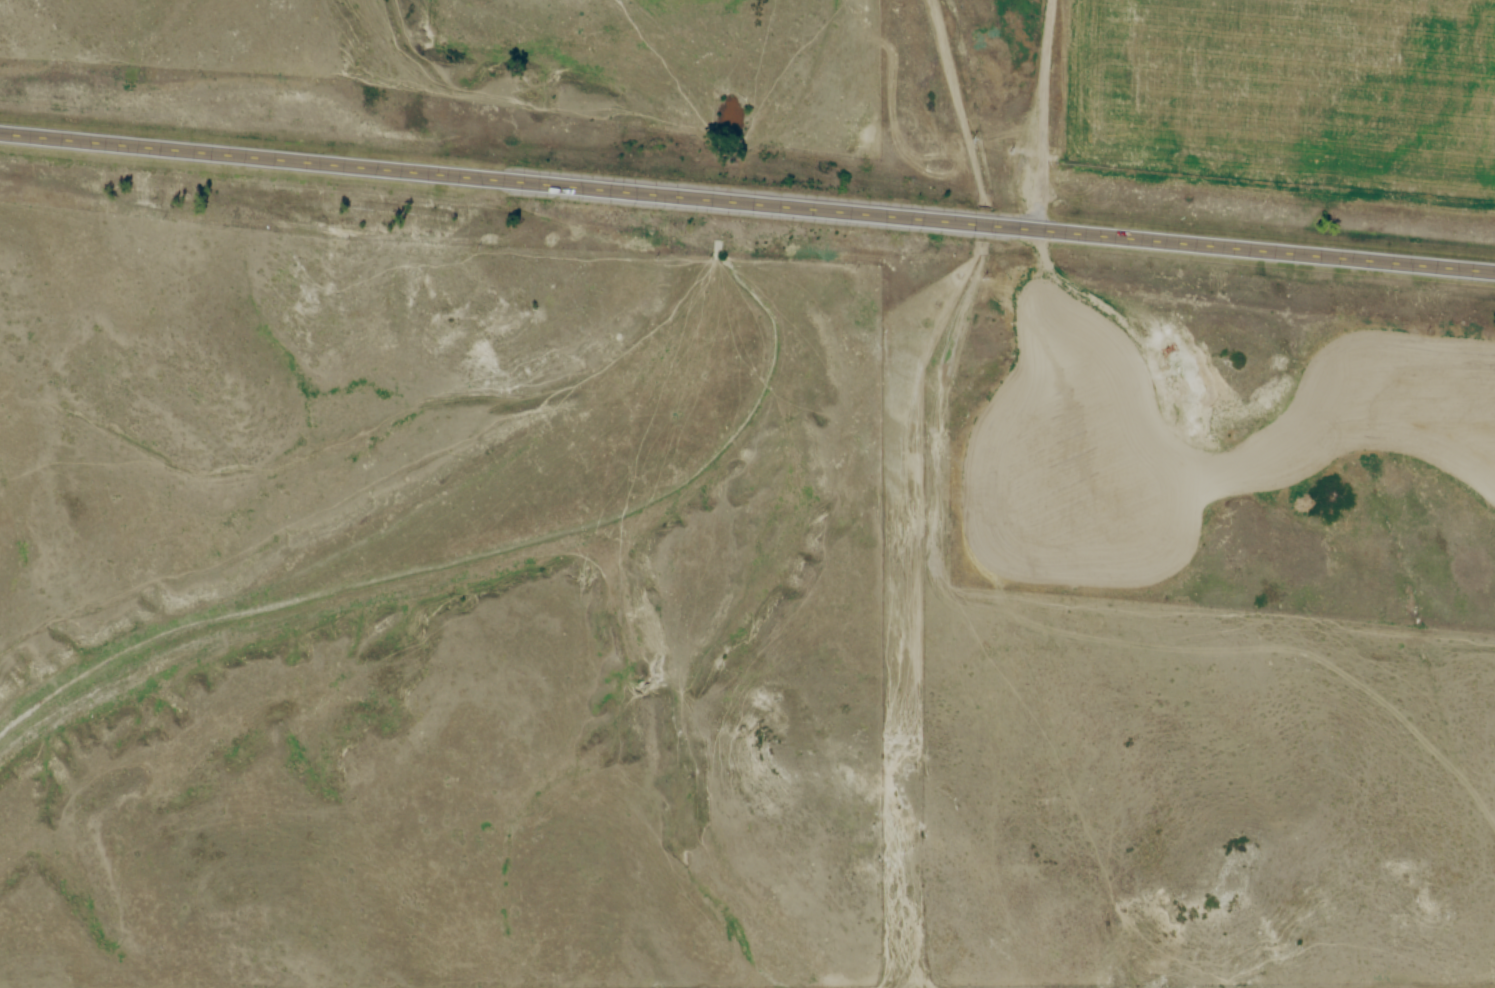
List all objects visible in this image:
road: (1046, 114)
road: (747, 203)

